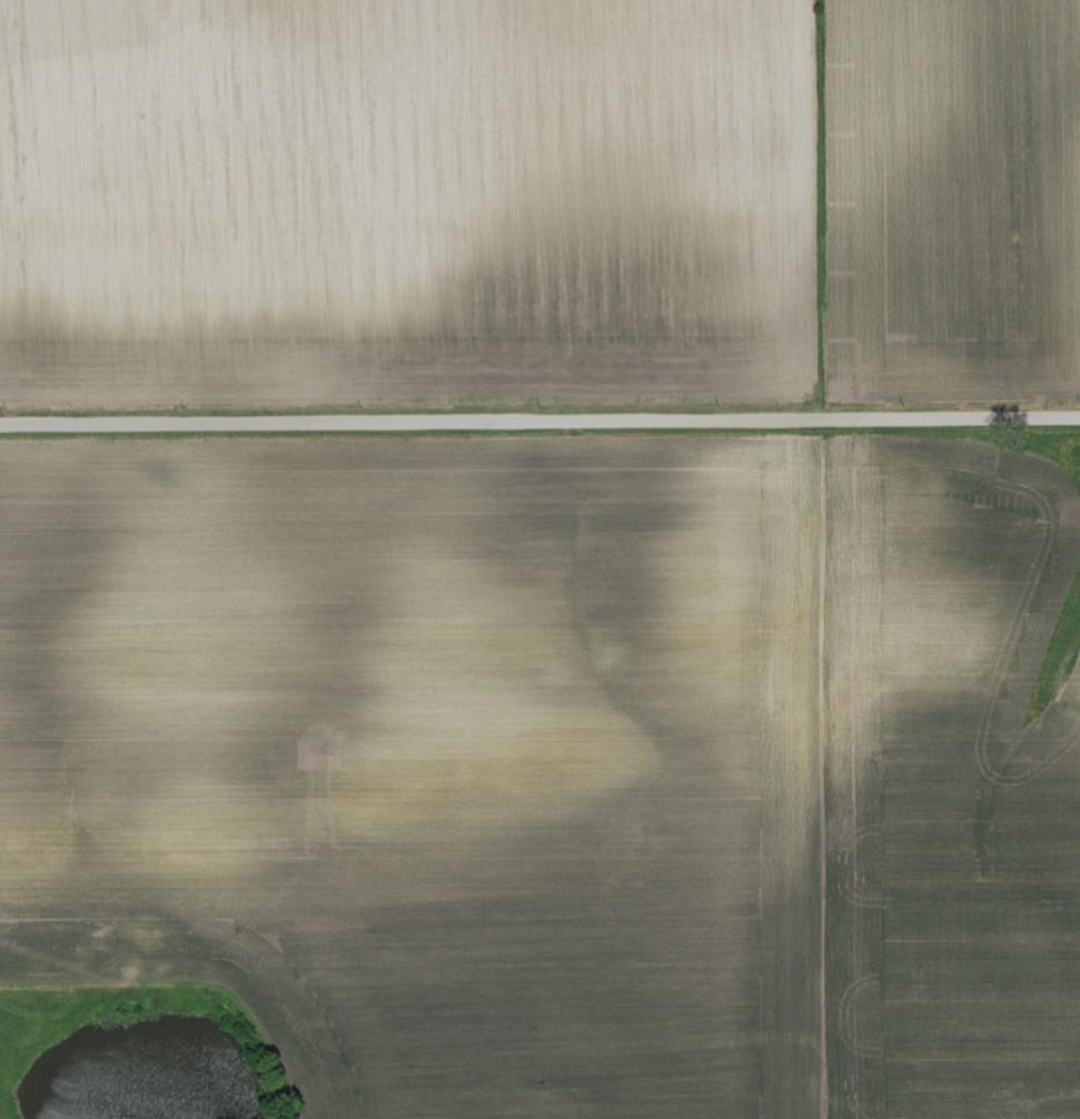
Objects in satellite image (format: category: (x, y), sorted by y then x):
road: (539, 418)

